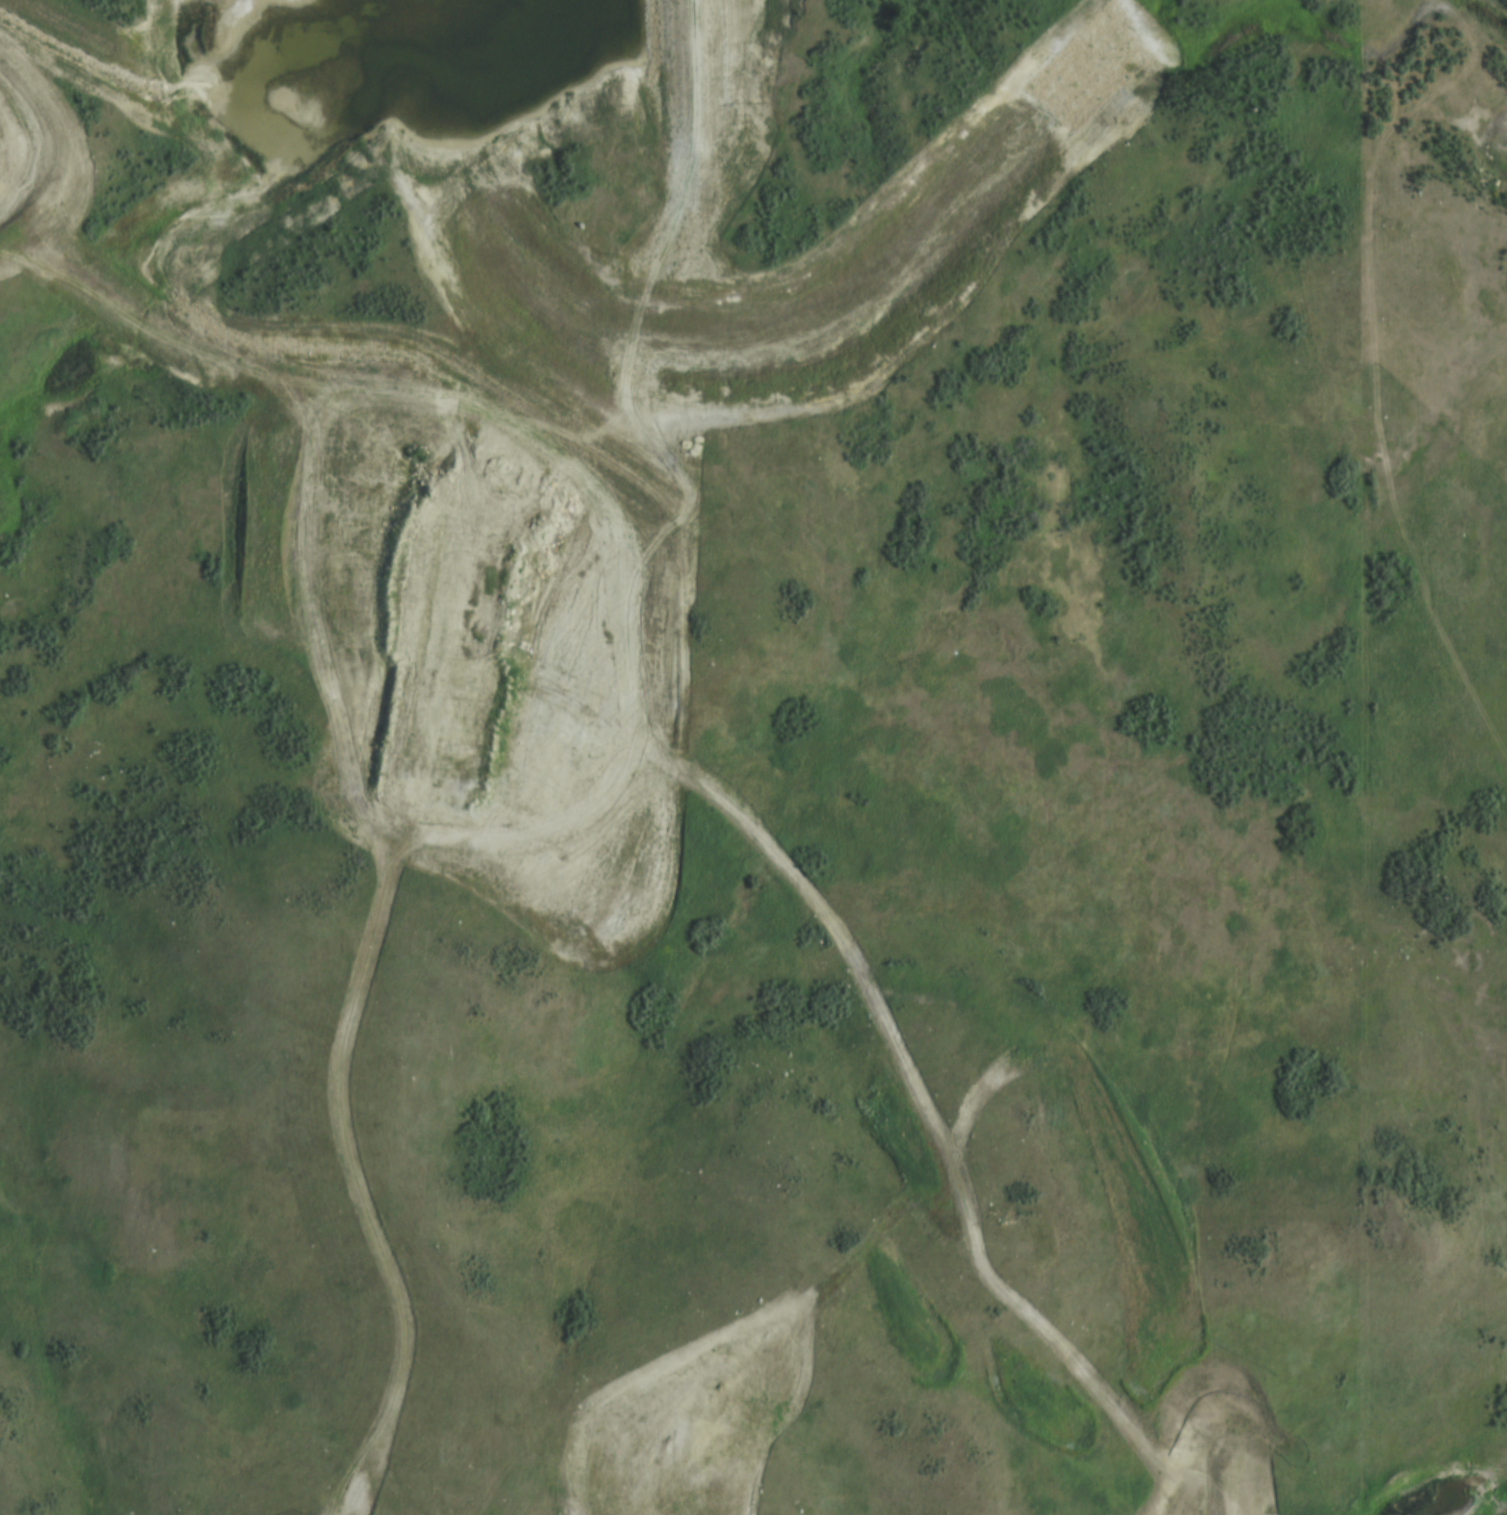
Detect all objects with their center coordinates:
road: (1381, 353)

